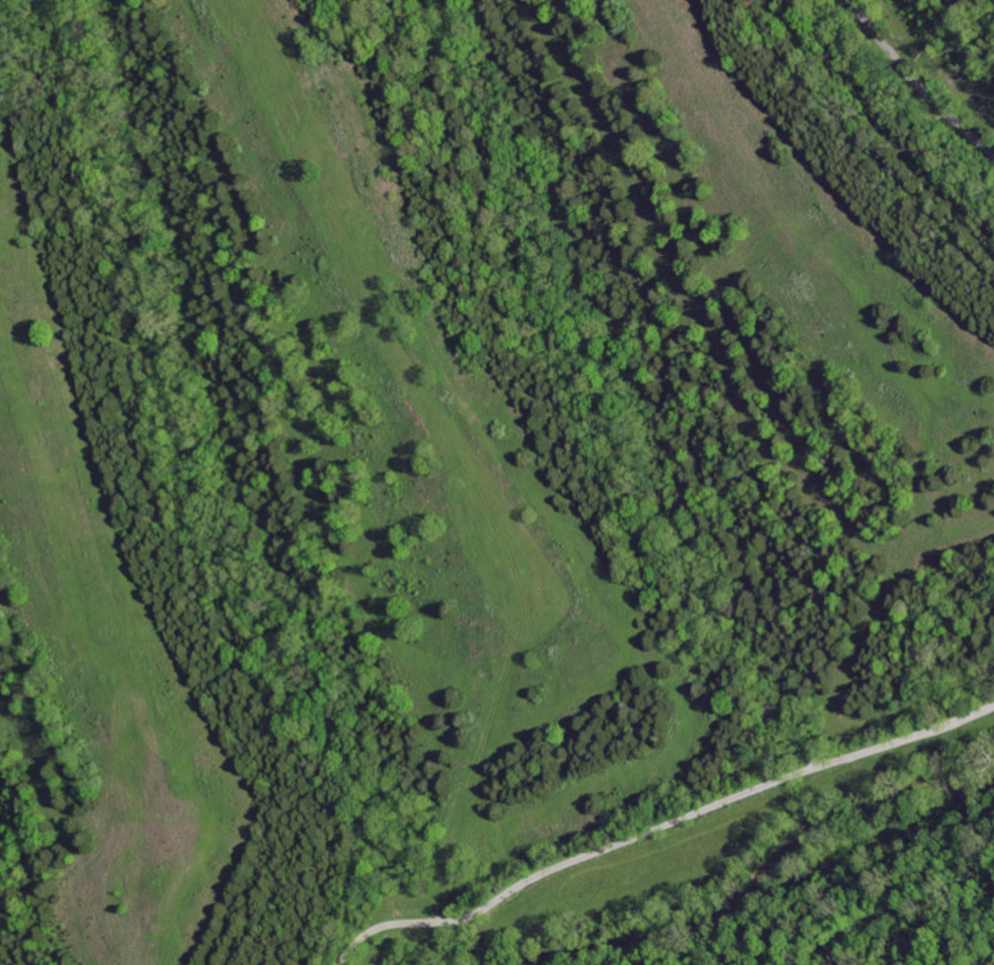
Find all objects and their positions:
road: (945, 73)
road: (916, 85)
road: (672, 809)

